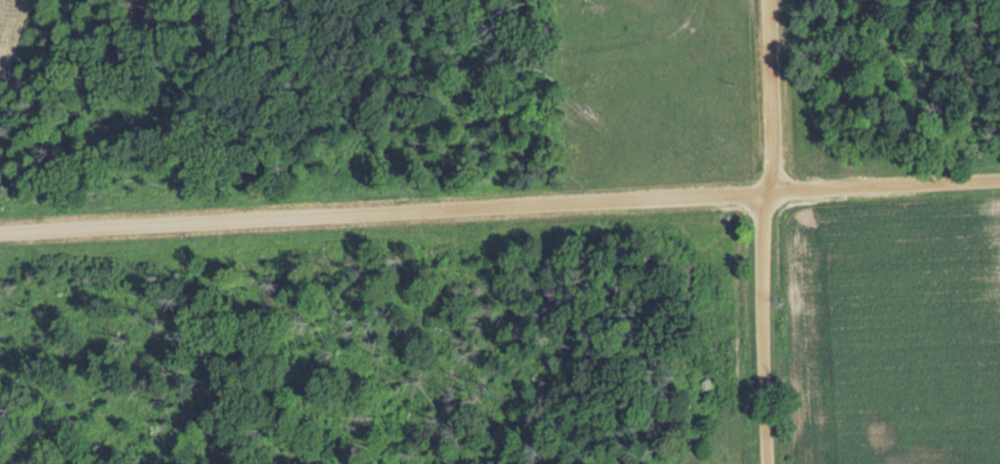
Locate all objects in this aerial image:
road: (499, 204)
road: (760, 232)

